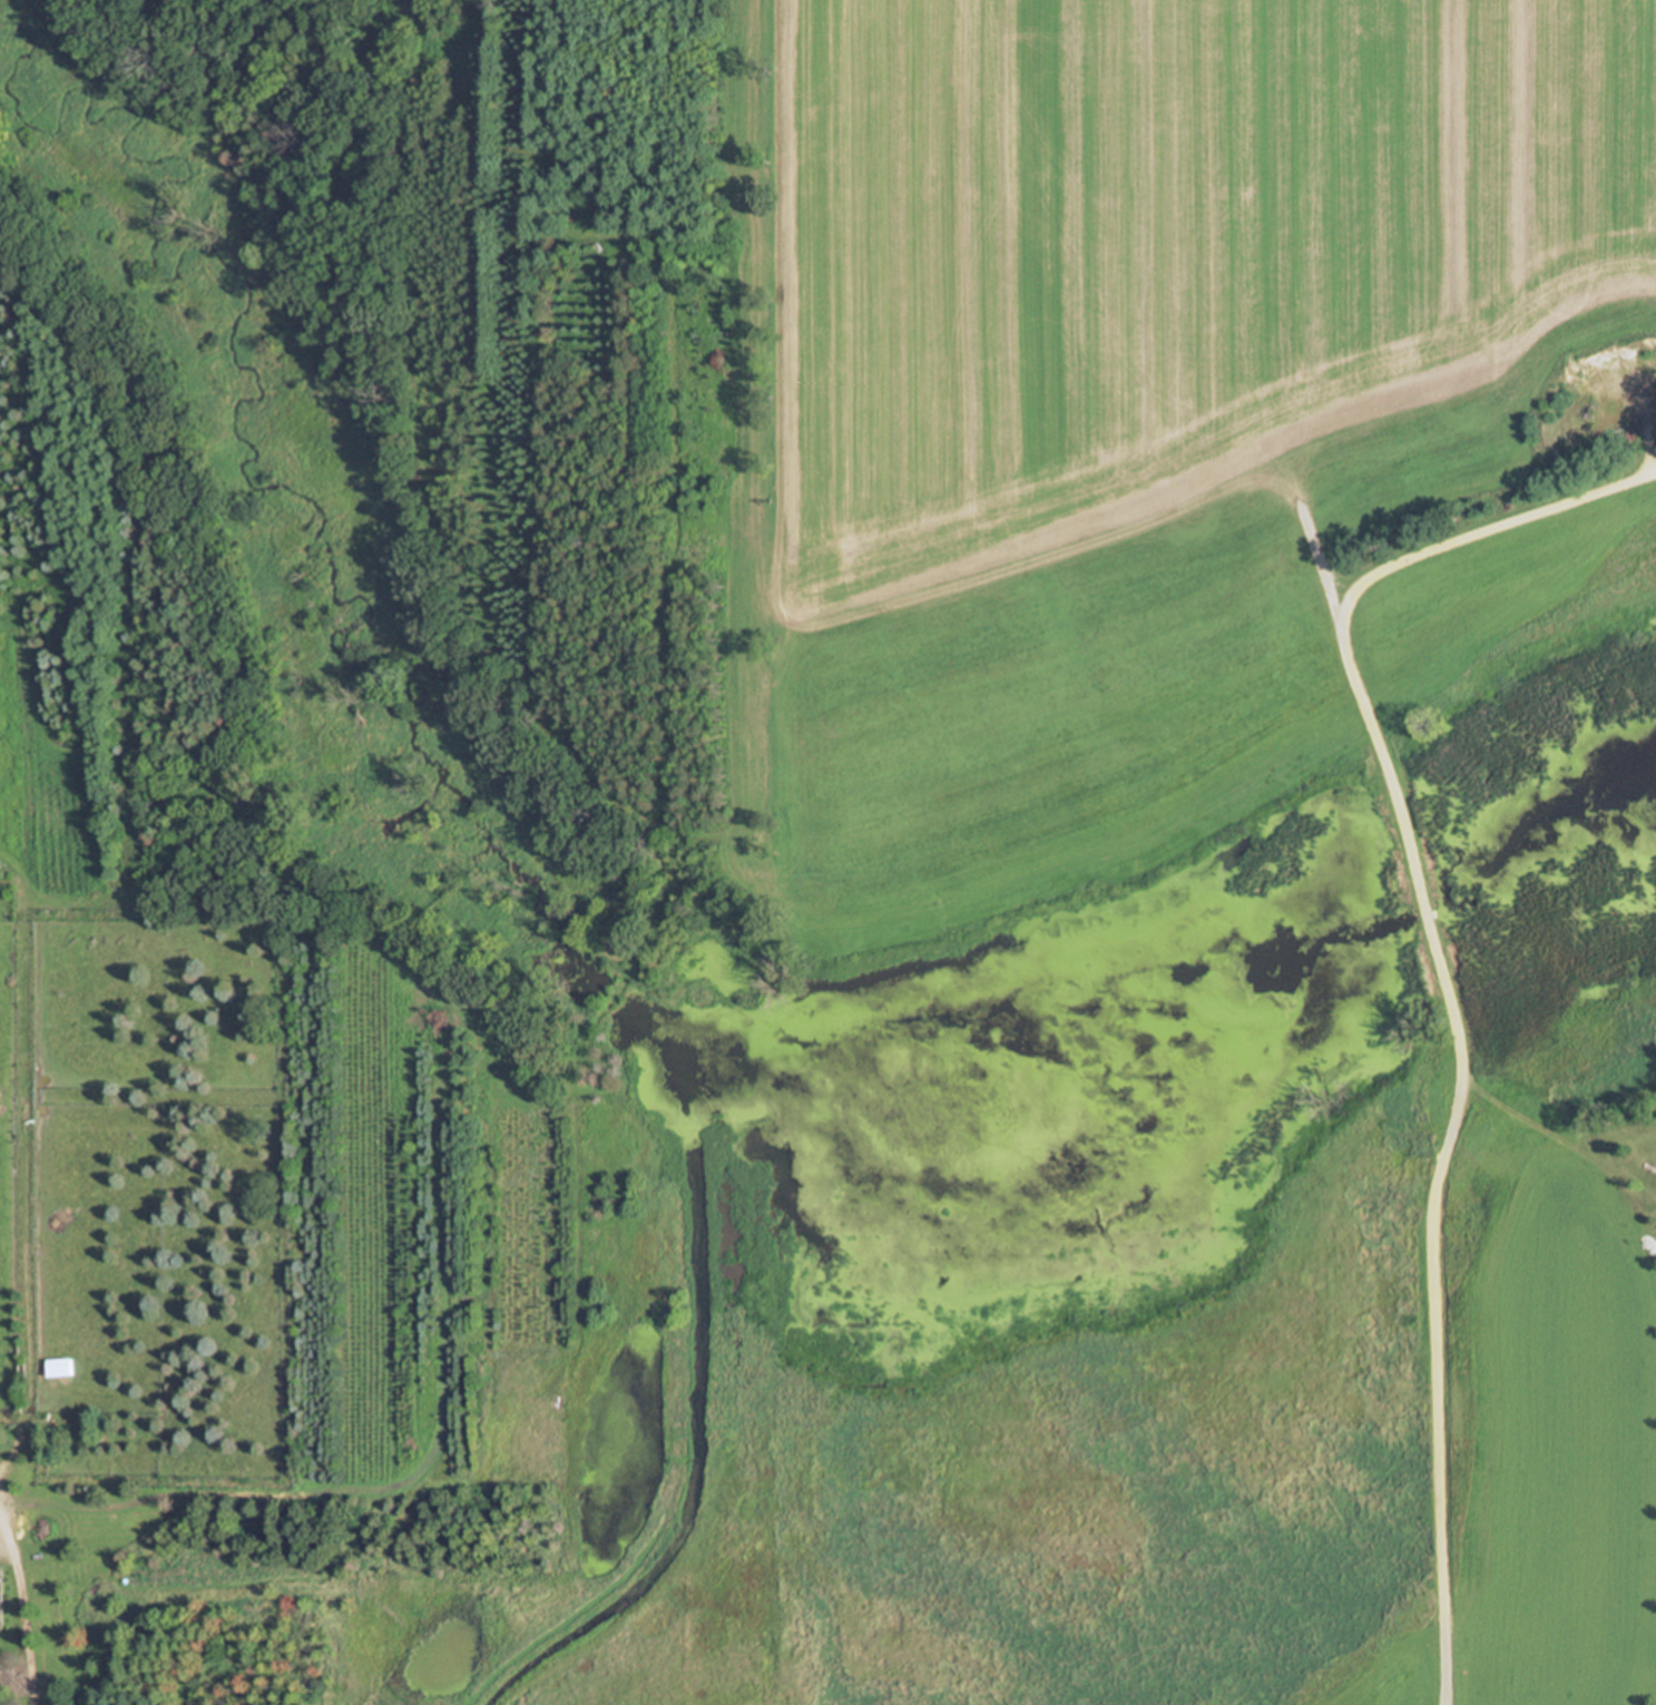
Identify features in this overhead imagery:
building: (58, 1366)
road: (21, 1601)
road: (1654, 1702)

